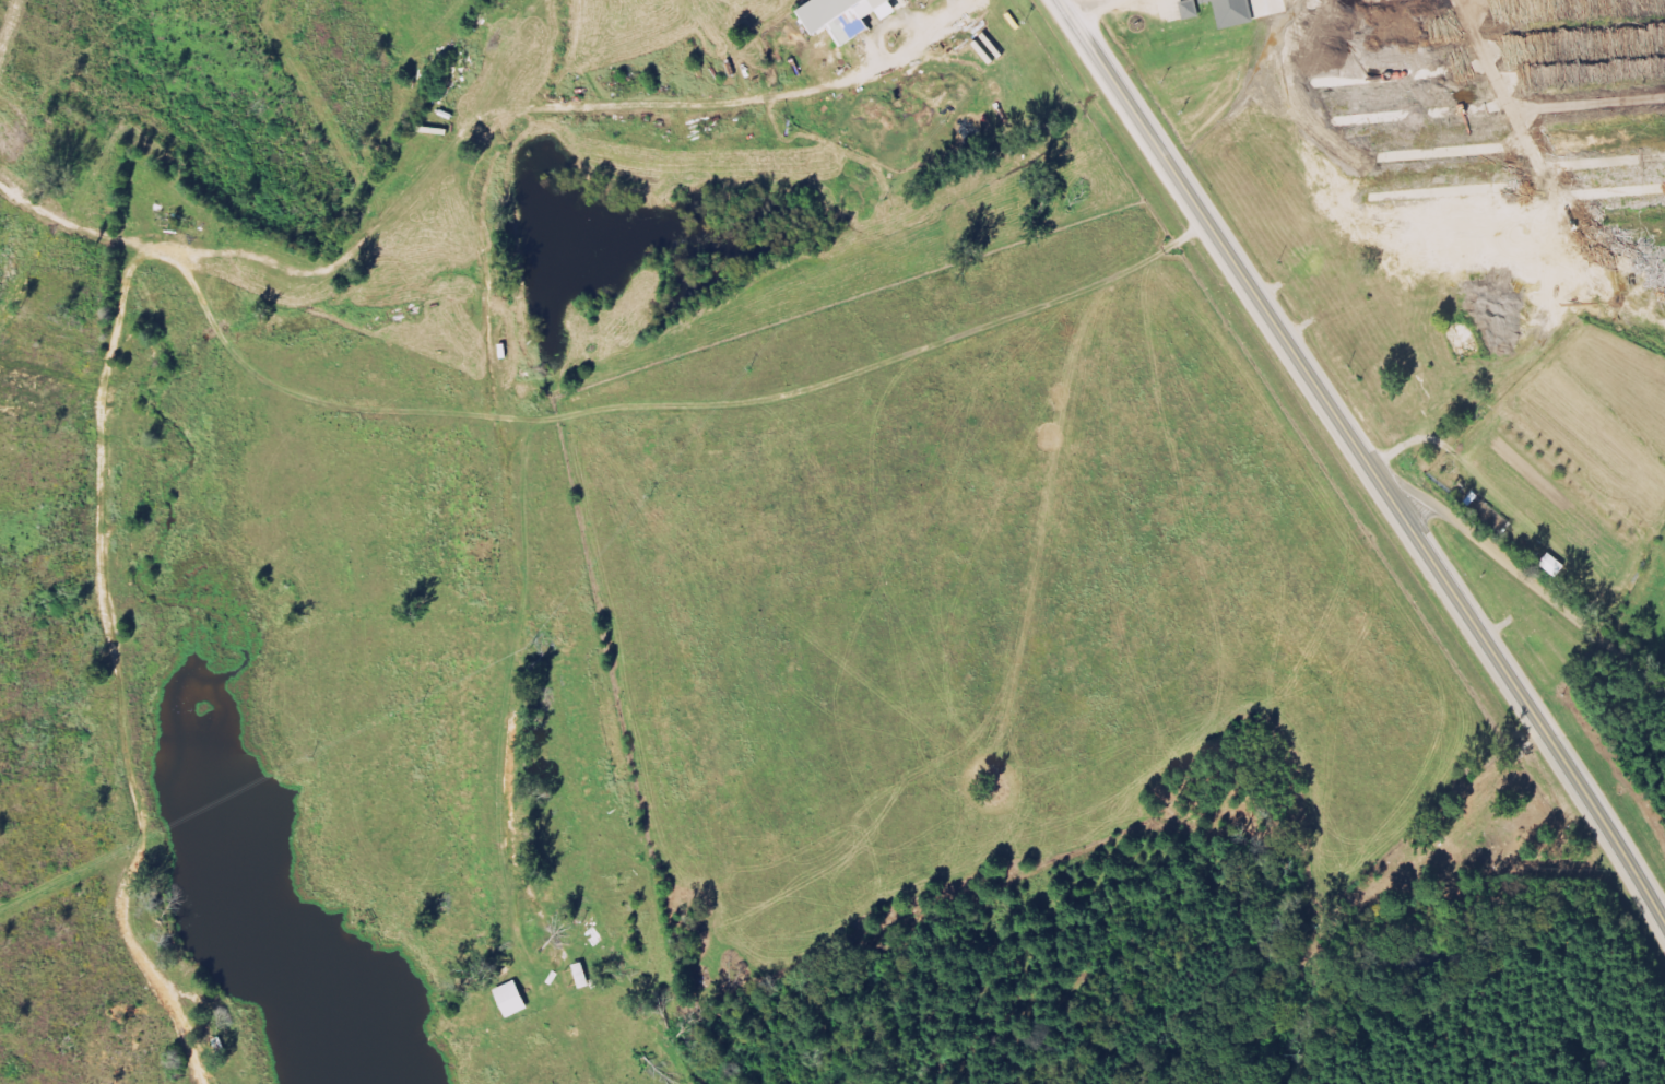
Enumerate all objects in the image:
road: (1082, 5)
building: (1225, 11)
building: (850, 16)
road: (1361, 453)
road: (1534, 582)
building: (516, 999)

